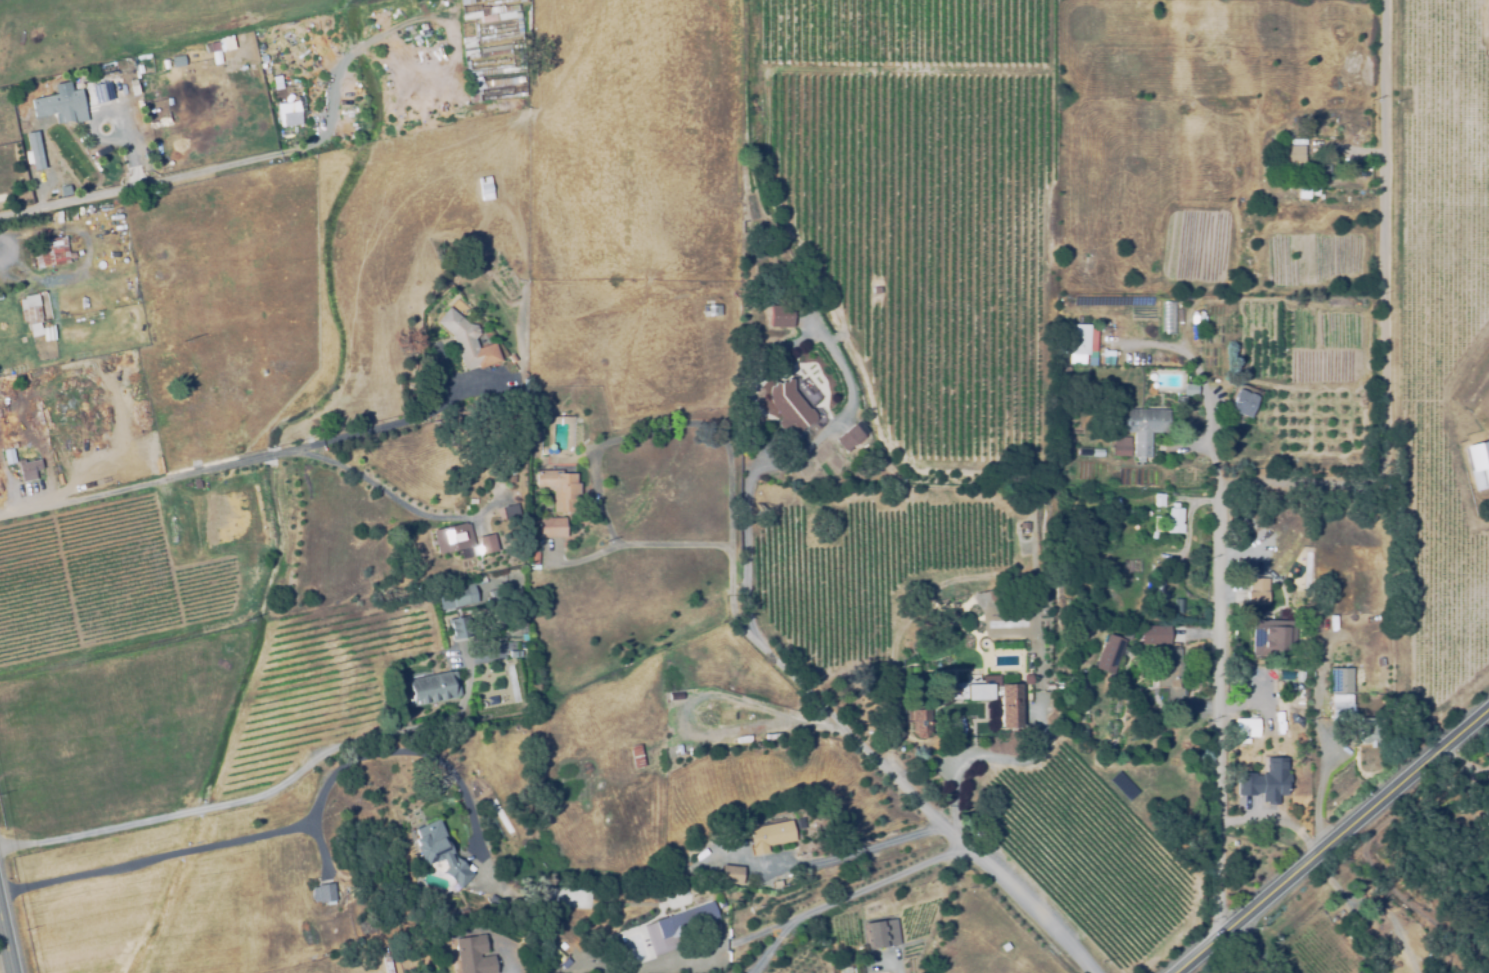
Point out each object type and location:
building: (521, 1)
building: (461, 2)
building: (490, 12)
building: (325, 26)
building: (281, 35)
building: (431, 41)
building: (217, 45)
building: (407, 58)
building: (177, 60)
building: (439, 68)
building: (495, 73)
building: (493, 83)
building: (430, 85)
building: (419, 87)
building: (102, 93)
building: (61, 105)
building: (290, 115)
road: (317, 141)
building: (15, 148)
building: (1, 150)
building: (33, 150)
building: (1294, 156)
building: (1325, 162)
building: (483, 190)
building: (1314, 191)
road: (76, 200)
building: (78, 212)
building: (71, 216)
building: (58, 218)
building: (50, 253)
building: (874, 291)
building: (29, 308)
building: (710, 312)
building: (1168, 317)
building: (780, 318)
building: (33, 326)
building: (34, 333)
building: (1081, 340)
building: (467, 342)
building: (1107, 357)
building: (510, 359)
building: (1063, 379)
road: (1202, 382)
building: (1190, 390)
building: (1177, 401)
building: (1241, 403)
building: (788, 408)
building: (1143, 430)
building: (848, 439)
building: (1121, 448)
building: (1097, 452)
building: (1083, 454)
building: (7, 457)
road: (238, 462)
building: (1478, 463)
building: (27, 470)
road: (594, 479)
road: (1310, 482)
road: (381, 488)
building: (560, 490)
building: (1158, 499)
building: (509, 511)
building: (1172, 520)
building: (1155, 525)
building: (553, 528)
building: (453, 534)
building: (484, 546)
building: (533, 558)
road: (745, 575)
building: (1258, 590)
building: (457, 592)
building: (496, 594)
building: (459, 626)
building: (1155, 633)
building: (1271, 639)
building: (515, 651)
building: (1108, 654)
building: (1026, 677)
building: (1169, 677)
building: (1340, 680)
building: (434, 684)
building: (989, 695)
building: (1341, 708)
building: (726, 710)
building: (919, 721)
building: (955, 727)
building: (774, 737)
building: (1245, 737)
building: (742, 741)
building: (676, 750)
building: (634, 755)
road: (1461, 760)
road: (1486, 766)
building: (1273, 781)
road: (157, 814)
building: (800, 824)
road: (270, 830)
road: (1328, 834)
road: (950, 836)
building: (769, 837)
building: (721, 849)
building: (439, 853)
road: (835, 857)
road: (986, 864)
building: (731, 876)
building: (714, 877)
building: (323, 895)
building: (677, 897)
road: (1360, 909)
road: (808, 912)
building: (460, 916)
building: (692, 916)
building: (881, 935)
road: (780, 943)
road: (5, 949)
road: (1252, 949)
building: (472, 956)
building: (558, 957)
building: (386, 965)
road: (512, 970)
road: (898, 971)

